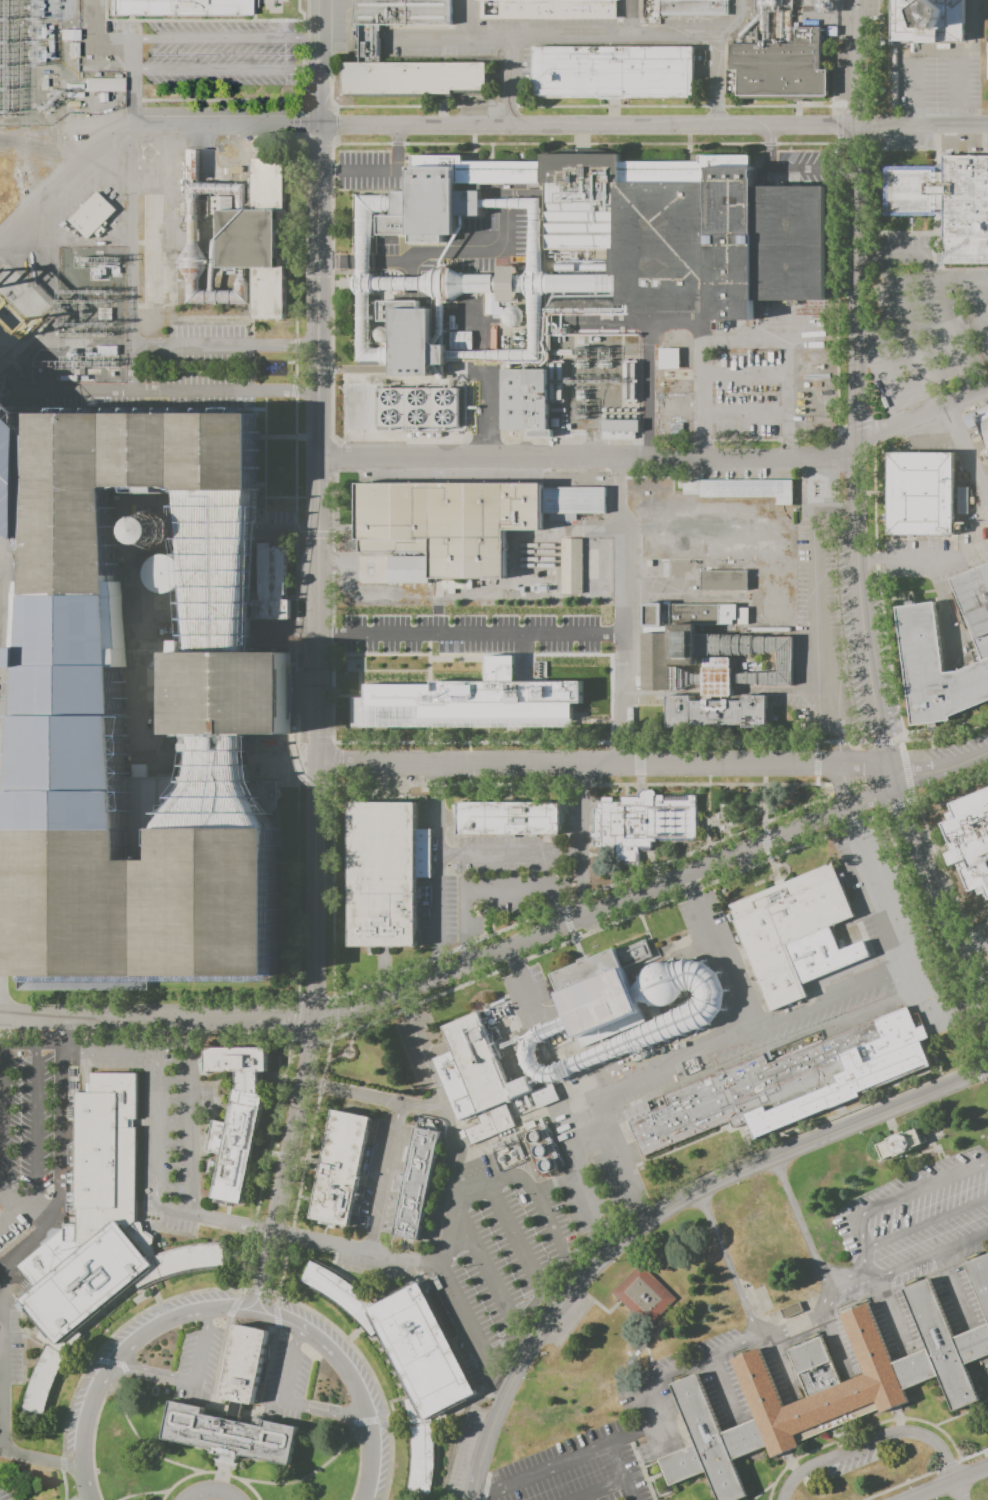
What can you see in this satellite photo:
building: (187, 8)
building: (695, 9)
building: (548, 10)
road: (630, 18)
building: (925, 21)
road: (613, 36)
road: (224, 37)
building: (369, 46)
power substation: (49, 67)
road: (225, 68)
building: (781, 68)
building: (613, 73)
building: (102, 84)
road: (472, 127)
building: (449, 195)
building: (949, 198)
building: (91, 214)
building: (259, 232)
building: (684, 237)
road: (130, 247)
building: (460, 285)
power substation: (85, 316)
road: (672, 321)
building: (411, 341)
building: (667, 358)
road: (175, 389)
building: (524, 403)
building: (418, 410)
road: (766, 412)
building: (983, 418)
building: (618, 429)
road: (660, 459)
road: (971, 463)
building: (15, 476)
building: (739, 488)
building: (921, 488)
building: (464, 518)
road: (859, 522)
building: (726, 536)
road: (924, 561)
building: (569, 565)
building: (274, 582)
road: (942, 604)
road: (620, 612)
building: (918, 631)
parking lot: (469, 632)
road: (470, 632)
road: (816, 653)
road: (320, 659)
building: (715, 660)
road: (1, 663)
building: (230, 694)
building: (470, 698)
building: (74, 702)
road: (602, 766)
building: (265, 792)
road: (579, 810)
building: (513, 814)
building: (643, 819)
building: (971, 832)
road: (499, 854)
building: (386, 866)
road: (891, 914)
building: (795, 933)
road: (973, 944)
road: (507, 947)
road: (523, 981)
building: (131, 982)
building: (52, 983)
building: (601, 993)
building: (682, 1021)
road: (755, 1023)
road: (70, 1030)
road: (95, 1042)
building: (481, 1064)
road: (625, 1079)
building: (785, 1083)
building: (454, 1085)
building: (545, 1095)
road: (418, 1106)
parking lot: (26, 1116)
building: (236, 1118)
road: (154, 1123)
building: (491, 1124)
road: (34, 1125)
road: (189, 1128)
parking lot: (164, 1129)
road: (2, 1134)
building: (900, 1145)
building: (531, 1151)
building: (340, 1167)
road: (57, 1168)
road: (382, 1176)
parking lot: (913, 1180)
building: (415, 1183)
road: (536, 1189)
road: (921, 1190)
road: (586, 1206)
parking lot: (926, 1207)
road: (40, 1211)
road: (663, 1212)
road: (213, 1219)
road: (548, 1227)
road: (800, 1227)
road: (910, 1232)
building: (97, 1233)
road: (515, 1237)
parking lot: (844, 1238)
parking lot: (931, 1238)
parking lot: (526, 1242)
road: (402, 1257)
road: (484, 1263)
parking lot: (370, 1264)
road: (727, 1265)
road: (918, 1265)
road: (442, 1271)
road: (851, 1271)
road: (954, 1287)
building: (643, 1295)
road: (830, 1299)
road: (599, 1307)
road: (228, 1310)
building: (791, 1311)
road: (891, 1311)
road: (275, 1316)
parking lot: (566, 1322)
road: (791, 1322)
road: (575, 1325)
road: (835, 1338)
building: (410, 1355)
road: (702, 1359)
road: (782, 1362)
road: (112, 1363)
parking lot: (8, 1368)
building: (244, 1368)
road: (190, 1378)
road: (266, 1378)
road: (123, 1380)
road: (721, 1386)
building: (829, 1386)
road: (69, 1403)
road: (288, 1404)
road: (651, 1413)
road: (364, 1421)
road: (630, 1434)
building: (230, 1435)
road: (871, 1441)
road: (1, 1449)
road: (336, 1453)
road: (221, 1458)
road: (225, 1458)
road: (228, 1459)
road: (61, 1462)
street lamp: (96, 1471)
road: (540, 1471)
road: (617, 1471)
road: (216, 1472)
road: (219, 1473)
road: (222, 1473)
road: (227, 1474)
road: (180, 1479)
parking lot: (561, 1482)
road: (950, 1484)
road: (64, 1485)
road: (246, 1486)
road: (219, 1487)
road: (593, 1489)
road: (960, 1490)
road: (212, 1492)
road: (142, 1493)

